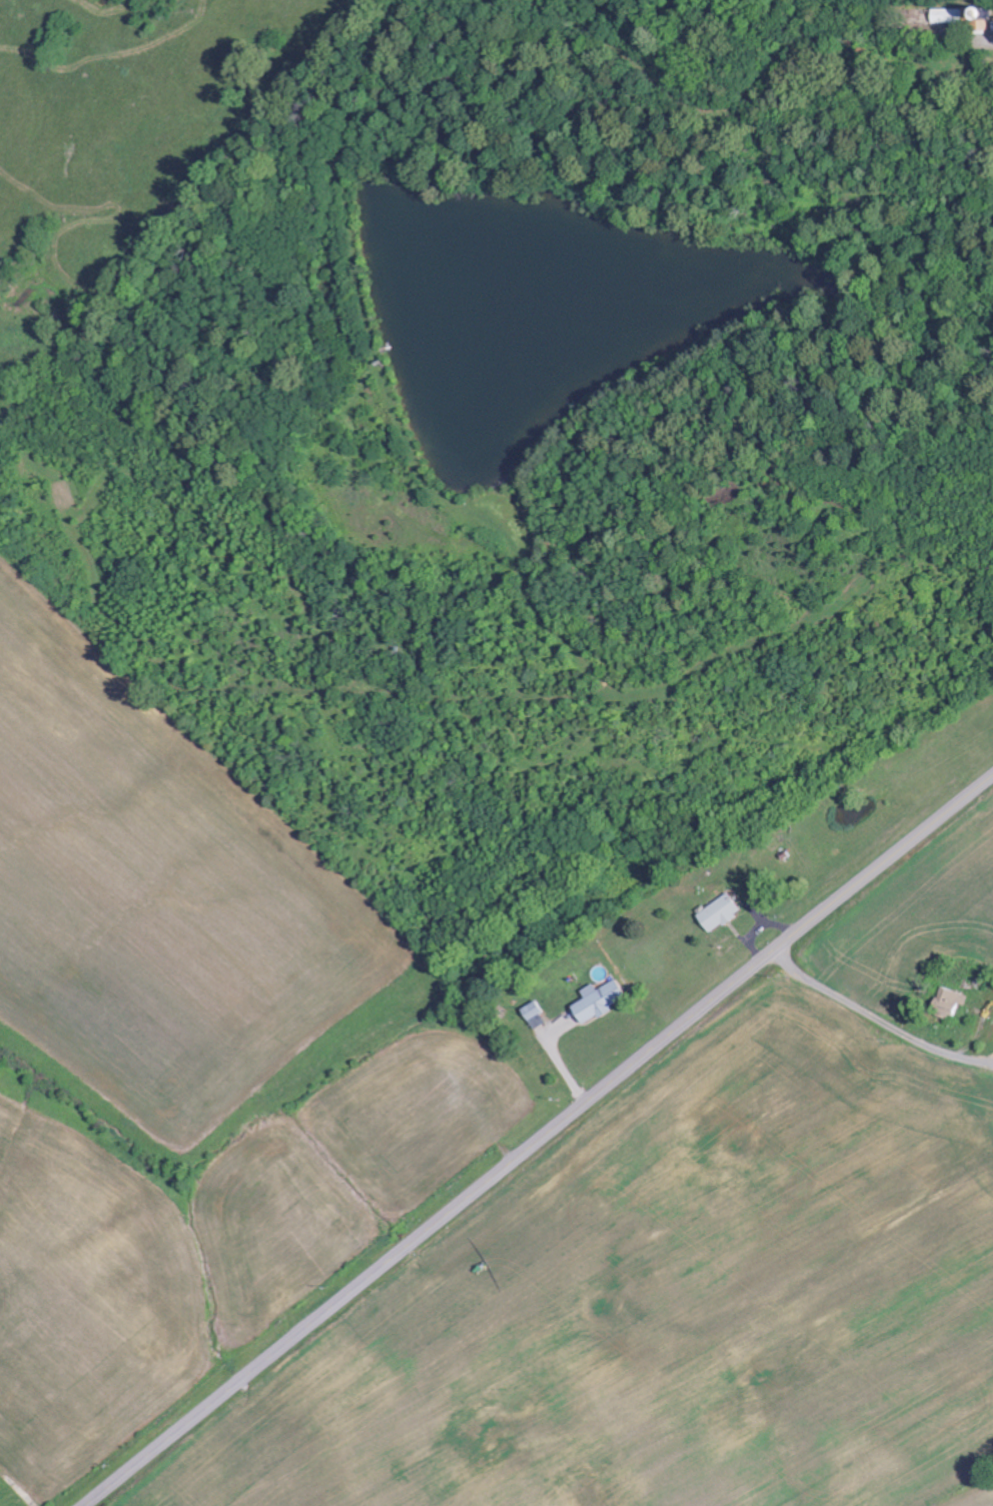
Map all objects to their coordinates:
building: (957, 17)
building: (981, 21)
building: (726, 913)
building: (604, 1001)
building: (539, 1015)
road: (538, 1140)

